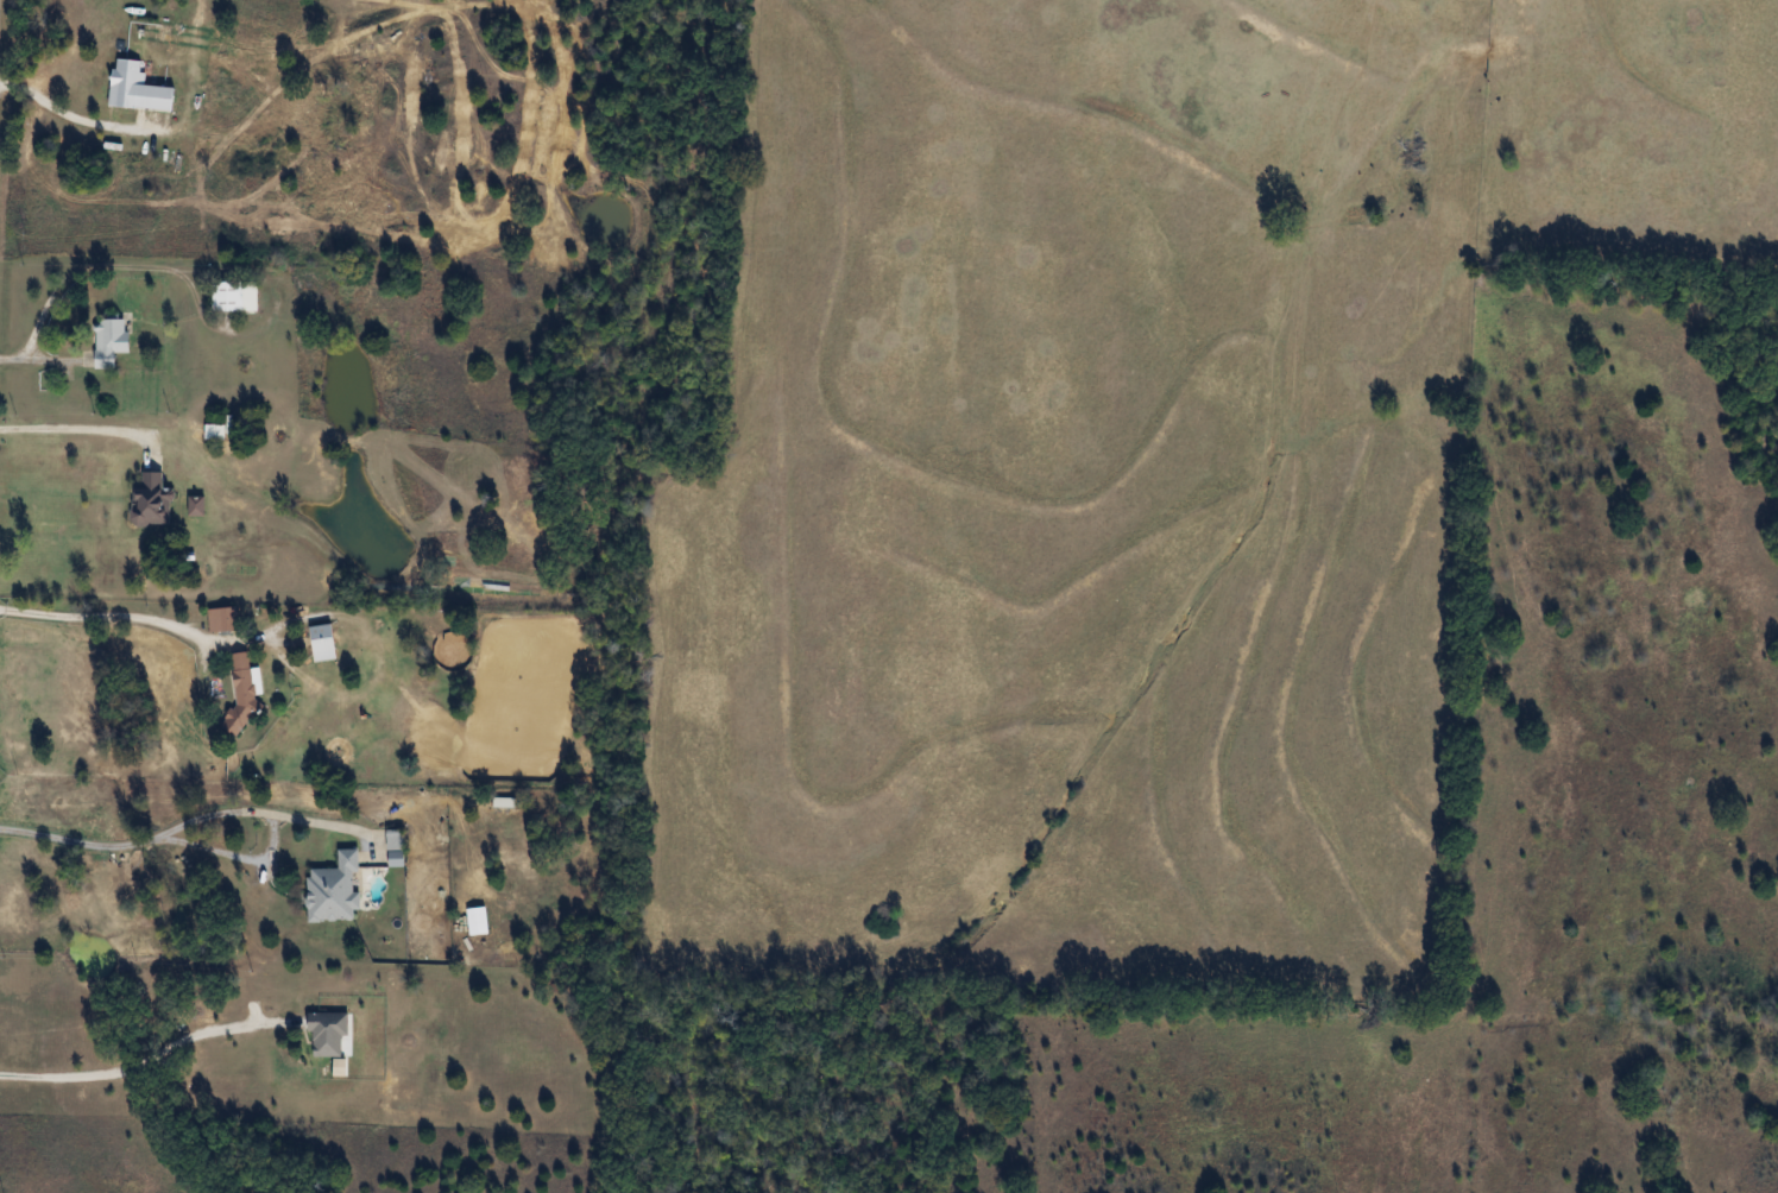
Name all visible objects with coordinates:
building: (232, 297)
building: (108, 341)
road: (76, 429)
building: (149, 500)
road: (119, 613)
building: (221, 619)
building: (320, 643)
building: (240, 694)
road: (190, 821)
building: (392, 840)
building: (332, 891)
building: (324, 1033)
road: (145, 1059)

